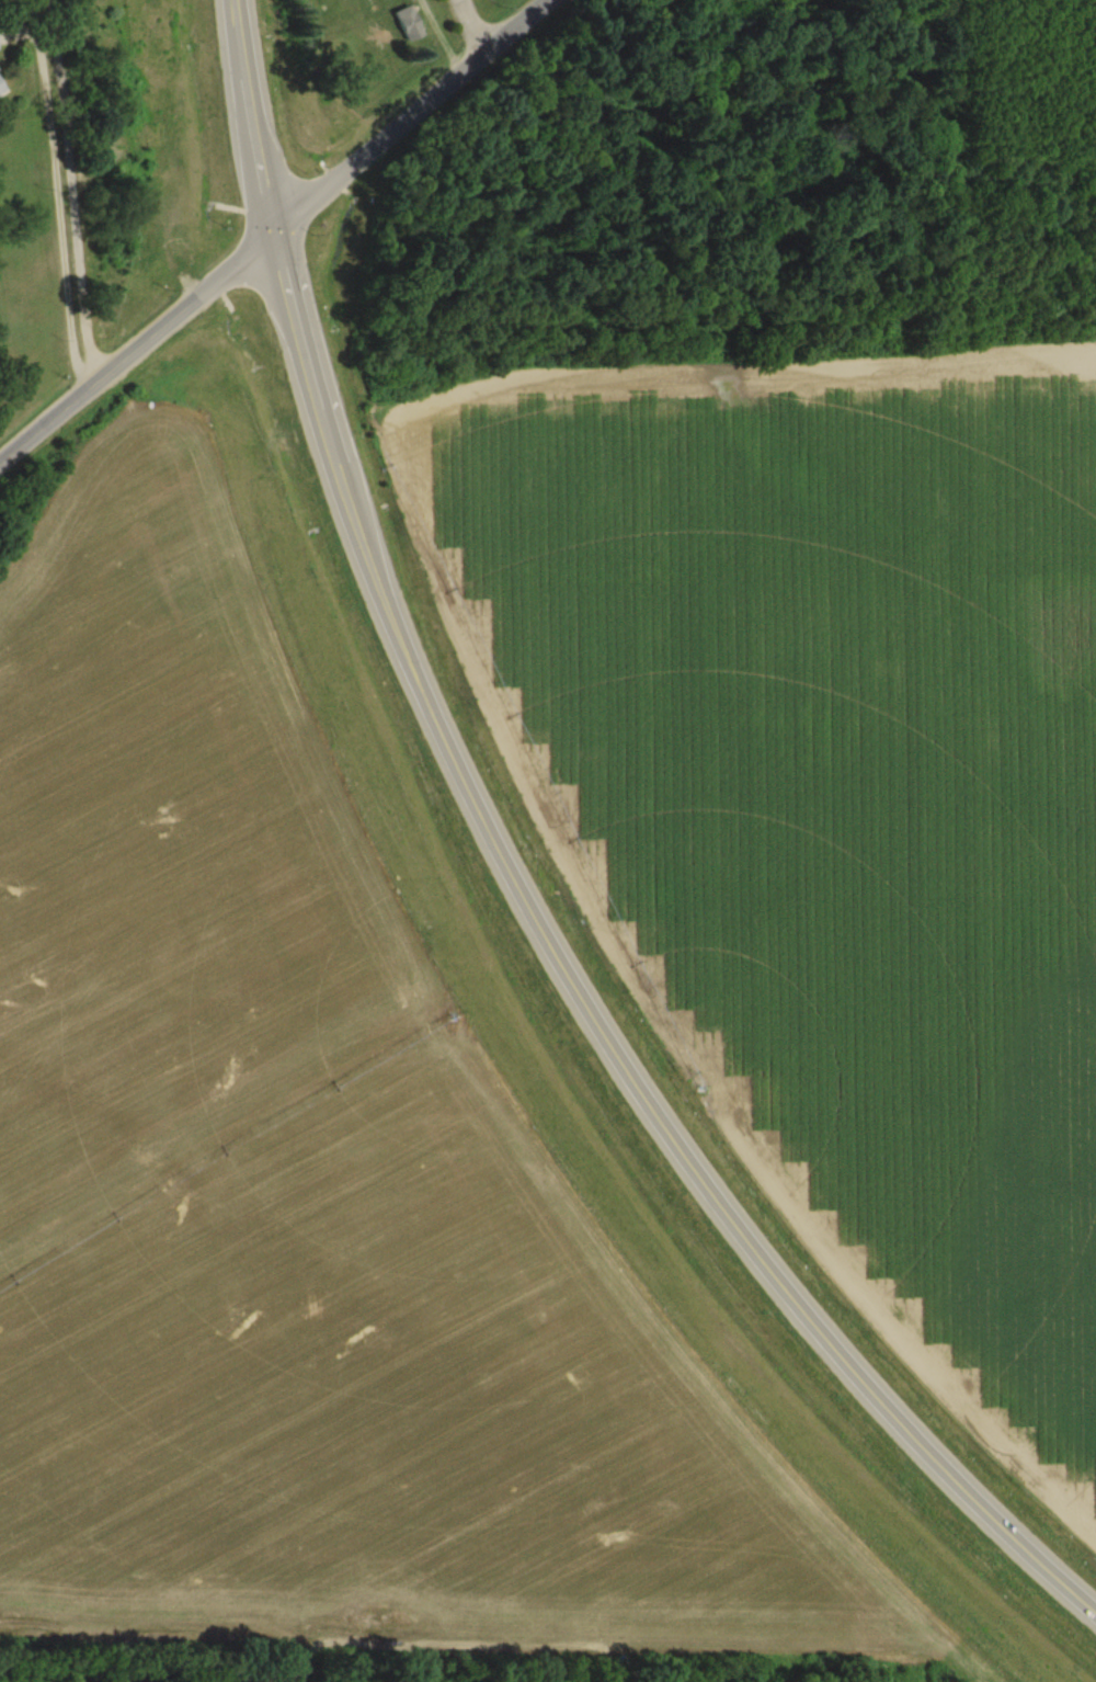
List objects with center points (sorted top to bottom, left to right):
road: (470, 23)
building: (408, 26)
building: (1, 90)
road: (62, 194)
road: (277, 239)
crop: (833, 802)
road: (521, 879)

